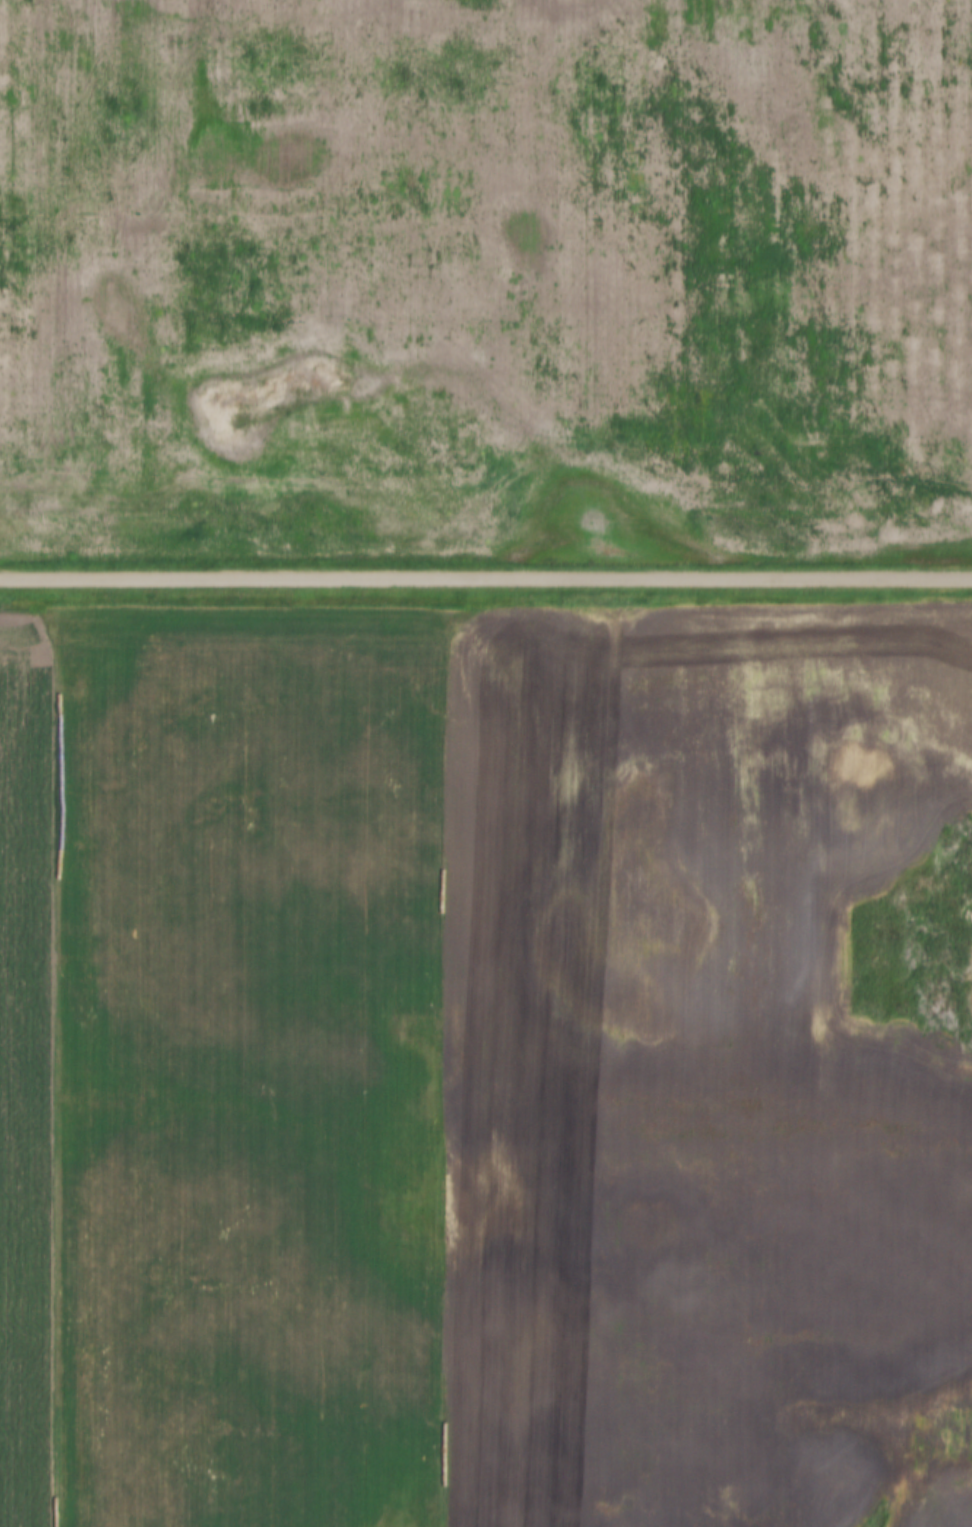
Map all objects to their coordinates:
road: (485, 575)

